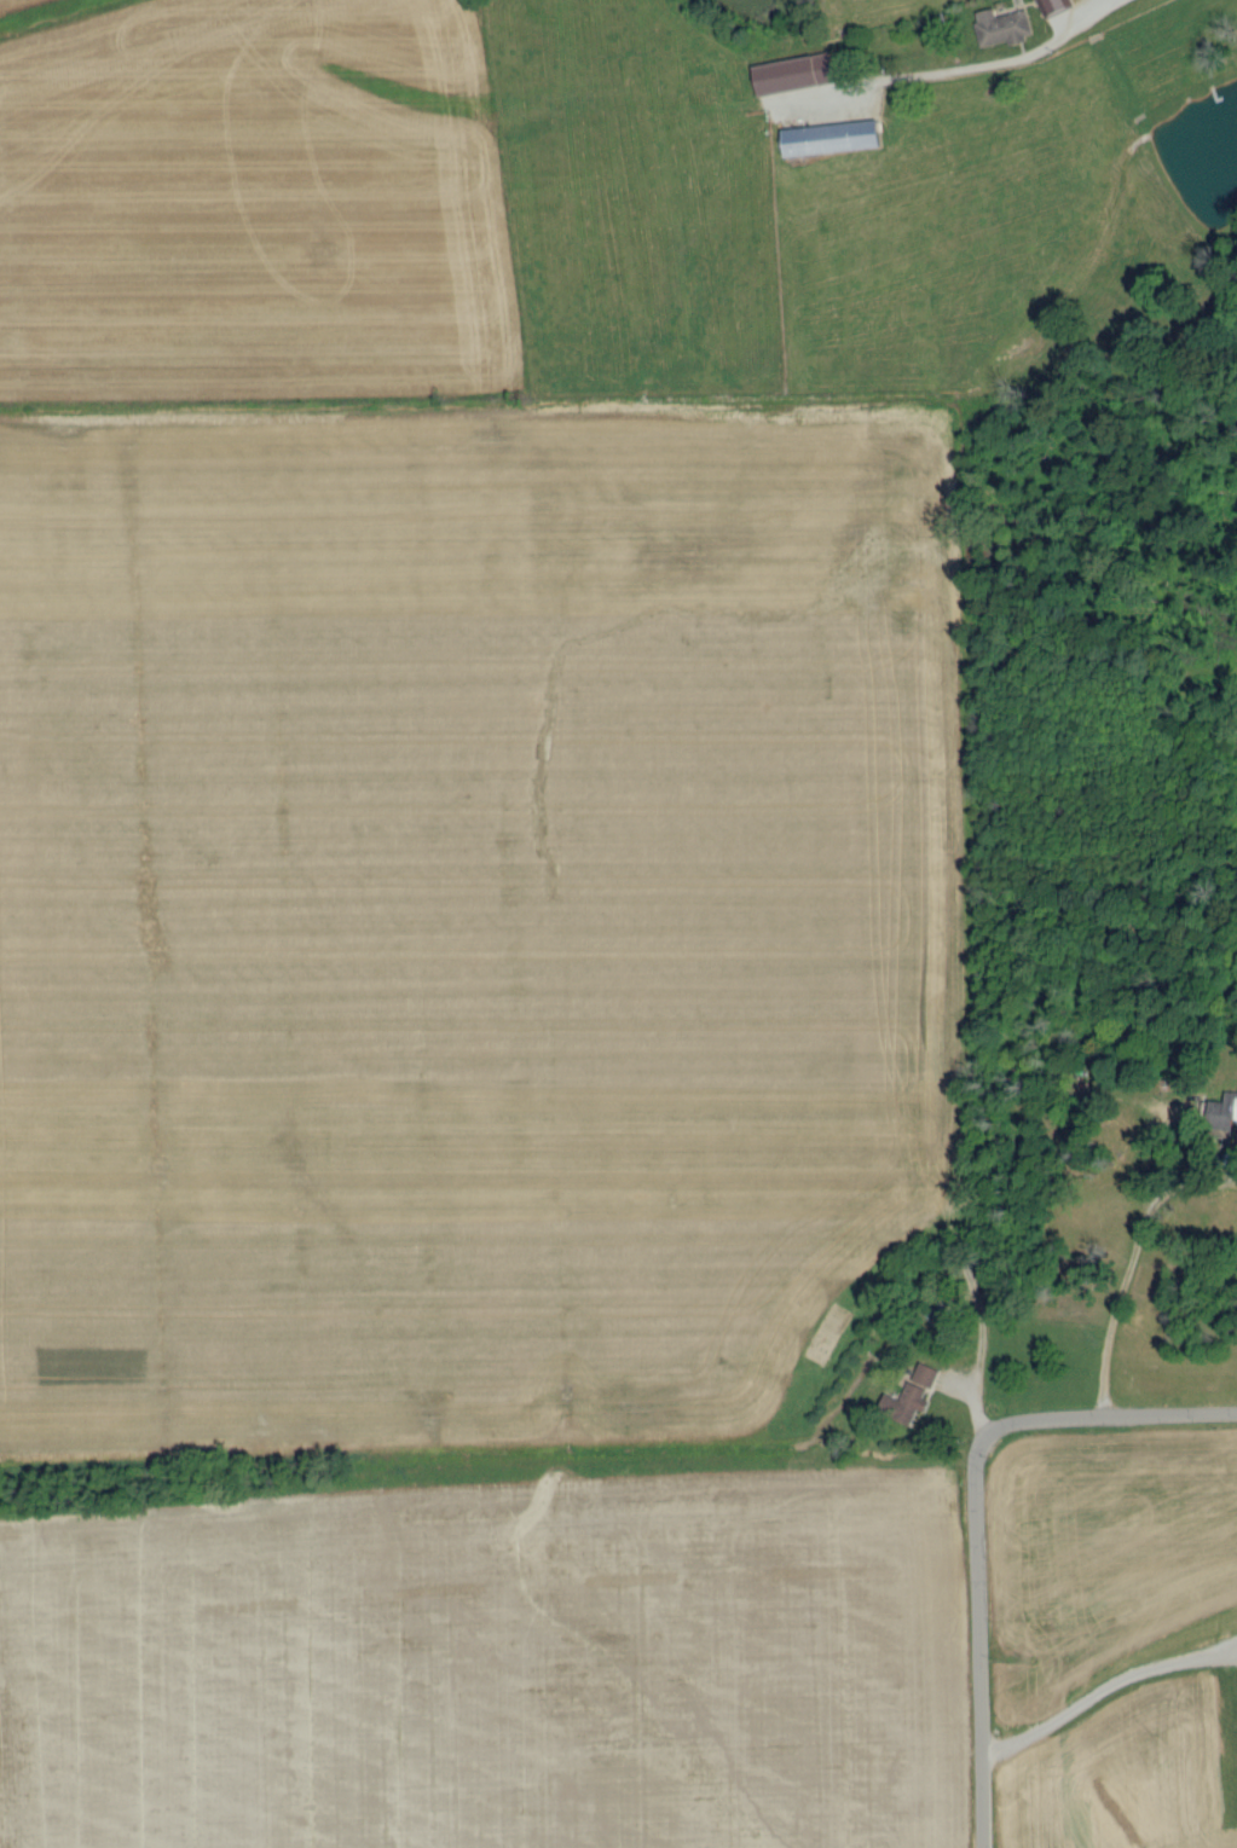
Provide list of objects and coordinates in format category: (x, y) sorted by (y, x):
building: (1053, 7)
road: (1109, 7)
building: (1002, 28)
building: (794, 76)
building: (831, 139)
building: (917, 1392)
road: (1052, 1423)
road: (977, 1691)

